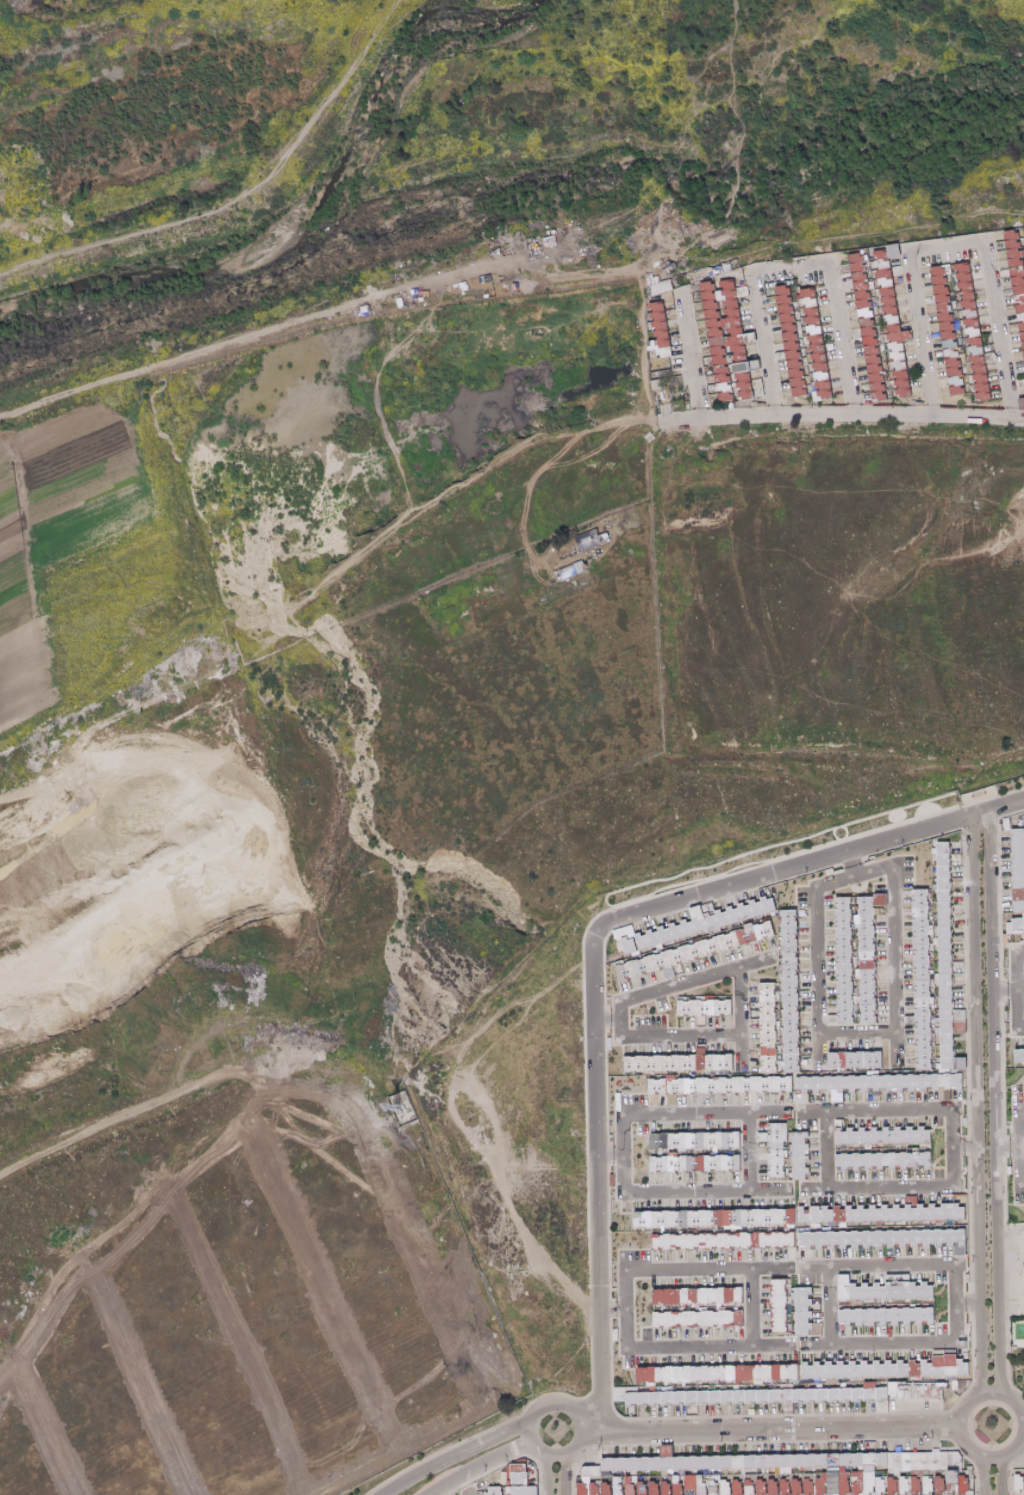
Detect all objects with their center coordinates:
crop: (79, 560)

